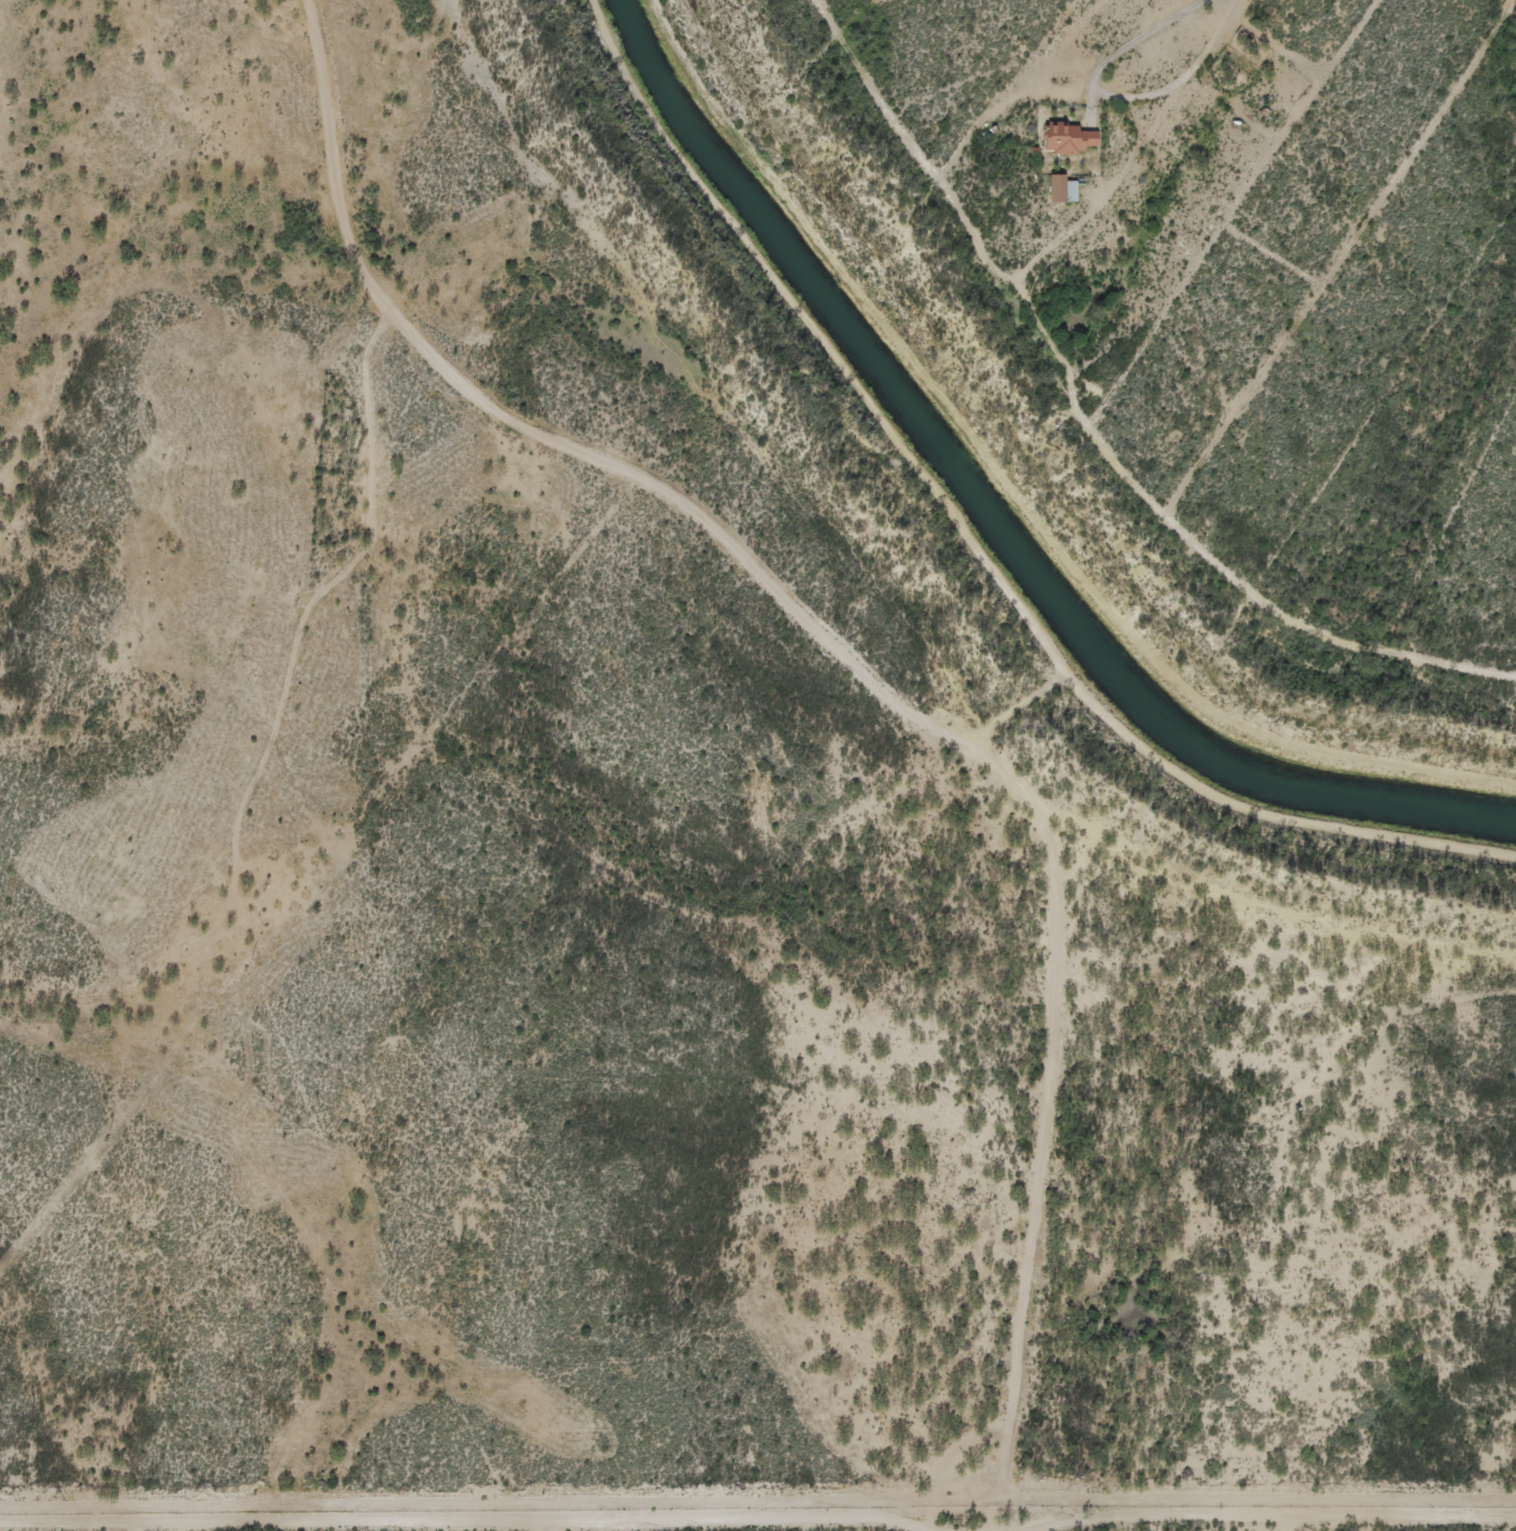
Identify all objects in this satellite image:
road: (1049, 57)
building: (1064, 140)
building: (1058, 190)
road: (1095, 429)
road: (343, 503)
road: (821, 601)
road: (754, 1099)
road: (1017, 1308)
road: (952, 1320)
road: (978, 1321)

